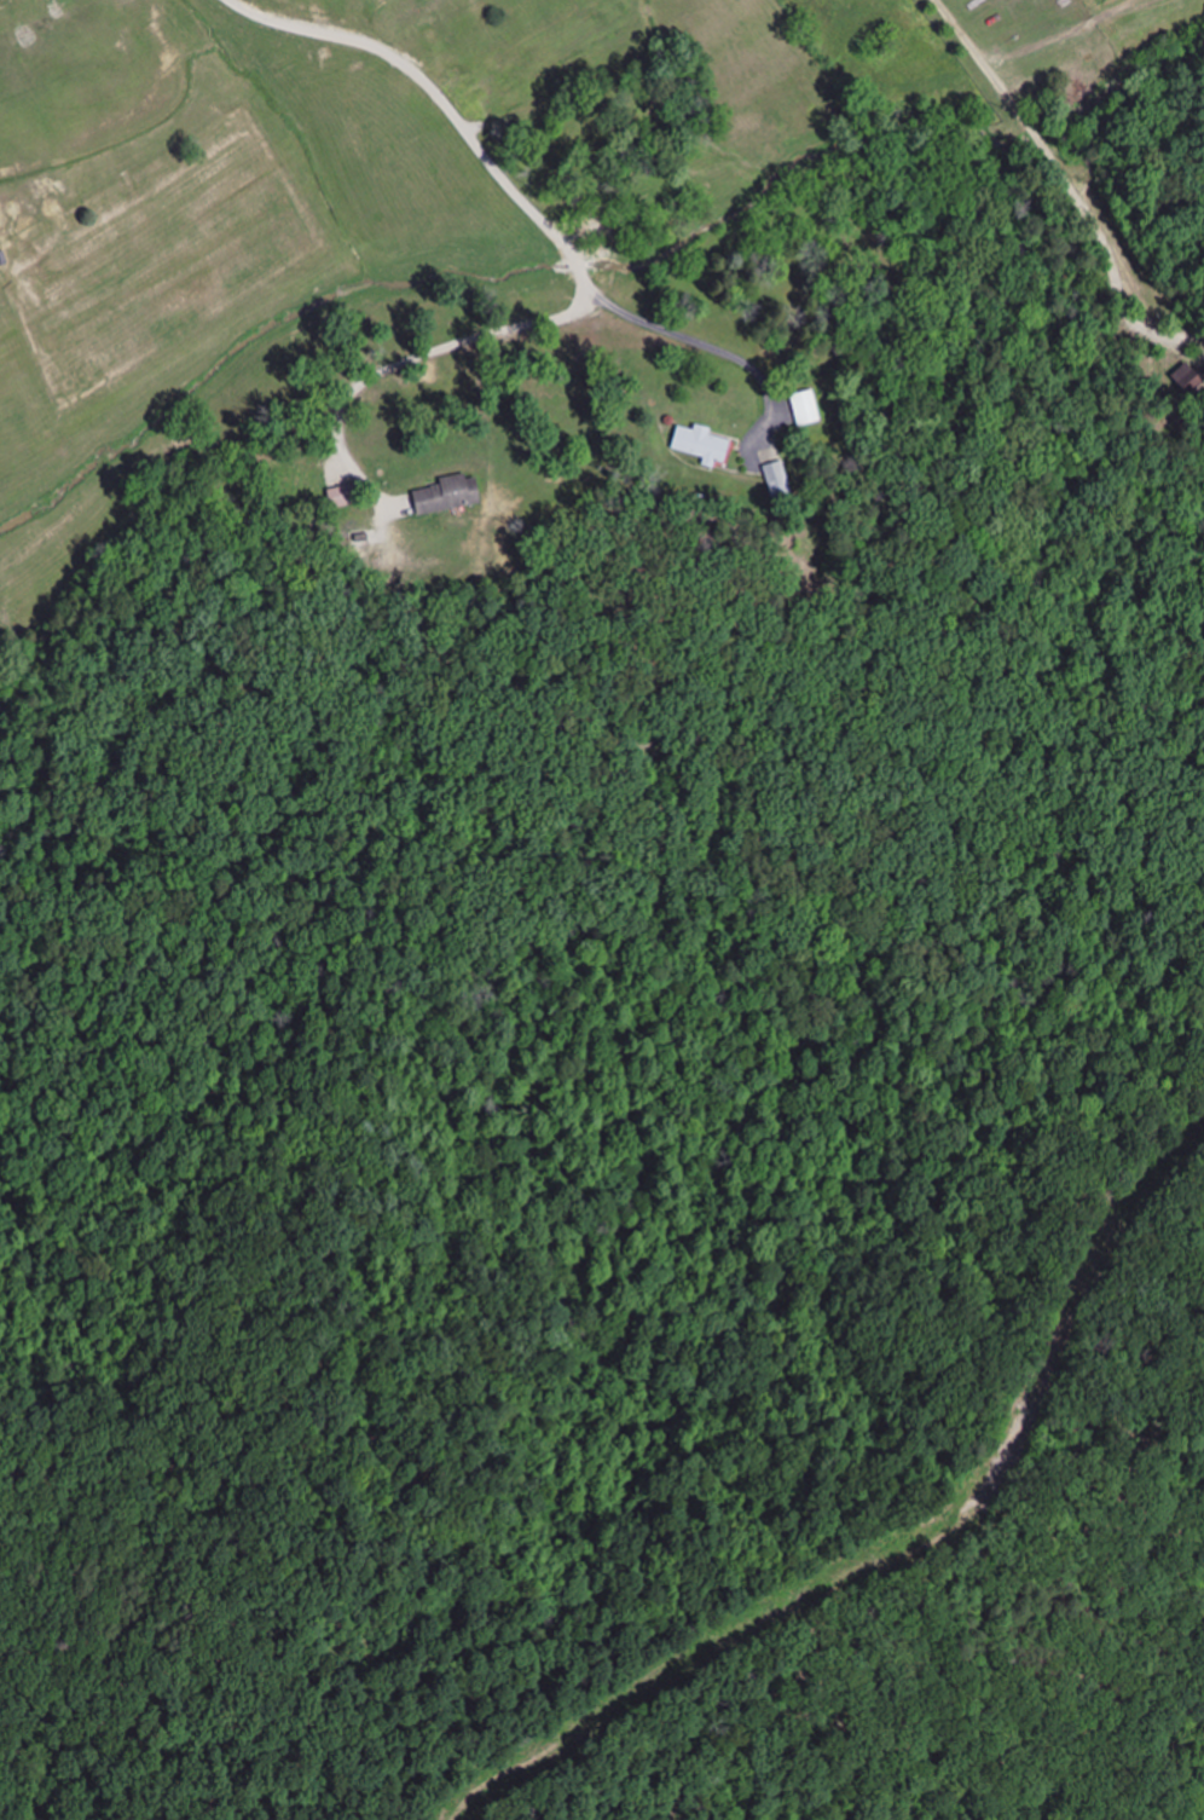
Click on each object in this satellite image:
building: (7, 4)
road: (1057, 156)
road: (577, 247)
road: (701, 336)
building: (1185, 377)
building: (805, 404)
building: (701, 441)
building: (771, 476)
building: (452, 492)
building: (343, 495)

